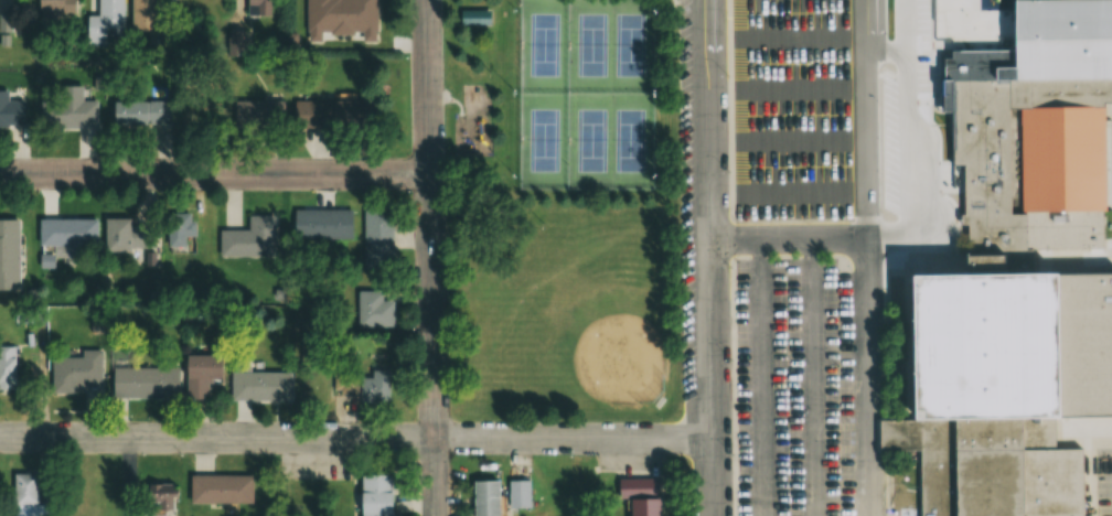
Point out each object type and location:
building: (259, 7)
building: (343, 8)
building: (56, 9)
building: (145, 14)
building: (475, 15)
building: (106, 24)
road: (873, 36)
building: (1059, 39)
park: (545, 45)
park: (612, 45)
street lamp: (943, 52)
street lamp: (804, 61)
street lamp: (730, 74)
road: (816, 85)
building: (75, 107)
building: (11, 111)
building: (141, 112)
building: (259, 112)
building: (329, 112)
road: (816, 136)
building: (977, 137)
park: (544, 139)
park: (612, 140)
building: (1062, 158)
street lamp: (730, 168)
road: (216, 173)
road: (817, 185)
park: (566, 212)
building: (324, 224)
road: (932, 225)
building: (180, 228)
building: (129, 235)
building: (68, 236)
building: (249, 238)
building: (378, 239)
building: (9, 254)
road: (432, 257)
road: (709, 257)
street lamp: (731, 262)
street lamp: (842, 265)
building: (374, 310)
park: (594, 326)
street lamp: (733, 356)
street lamp: (838, 363)
building: (7, 367)
building: (77, 372)
building: (200, 374)
road: (868, 375)
road: (812, 376)
road: (760, 377)
building: (145, 383)
building: (1002, 384)
building: (364, 385)
parking lot: (795, 387)
building: (254, 389)
road: (355, 439)
street lamp: (735, 452)
street lamp: (841, 455)
building: (221, 487)
building: (520, 493)
building: (375, 494)
building: (160, 495)
building: (640, 495)
building: (30, 496)
building: (484, 497)

